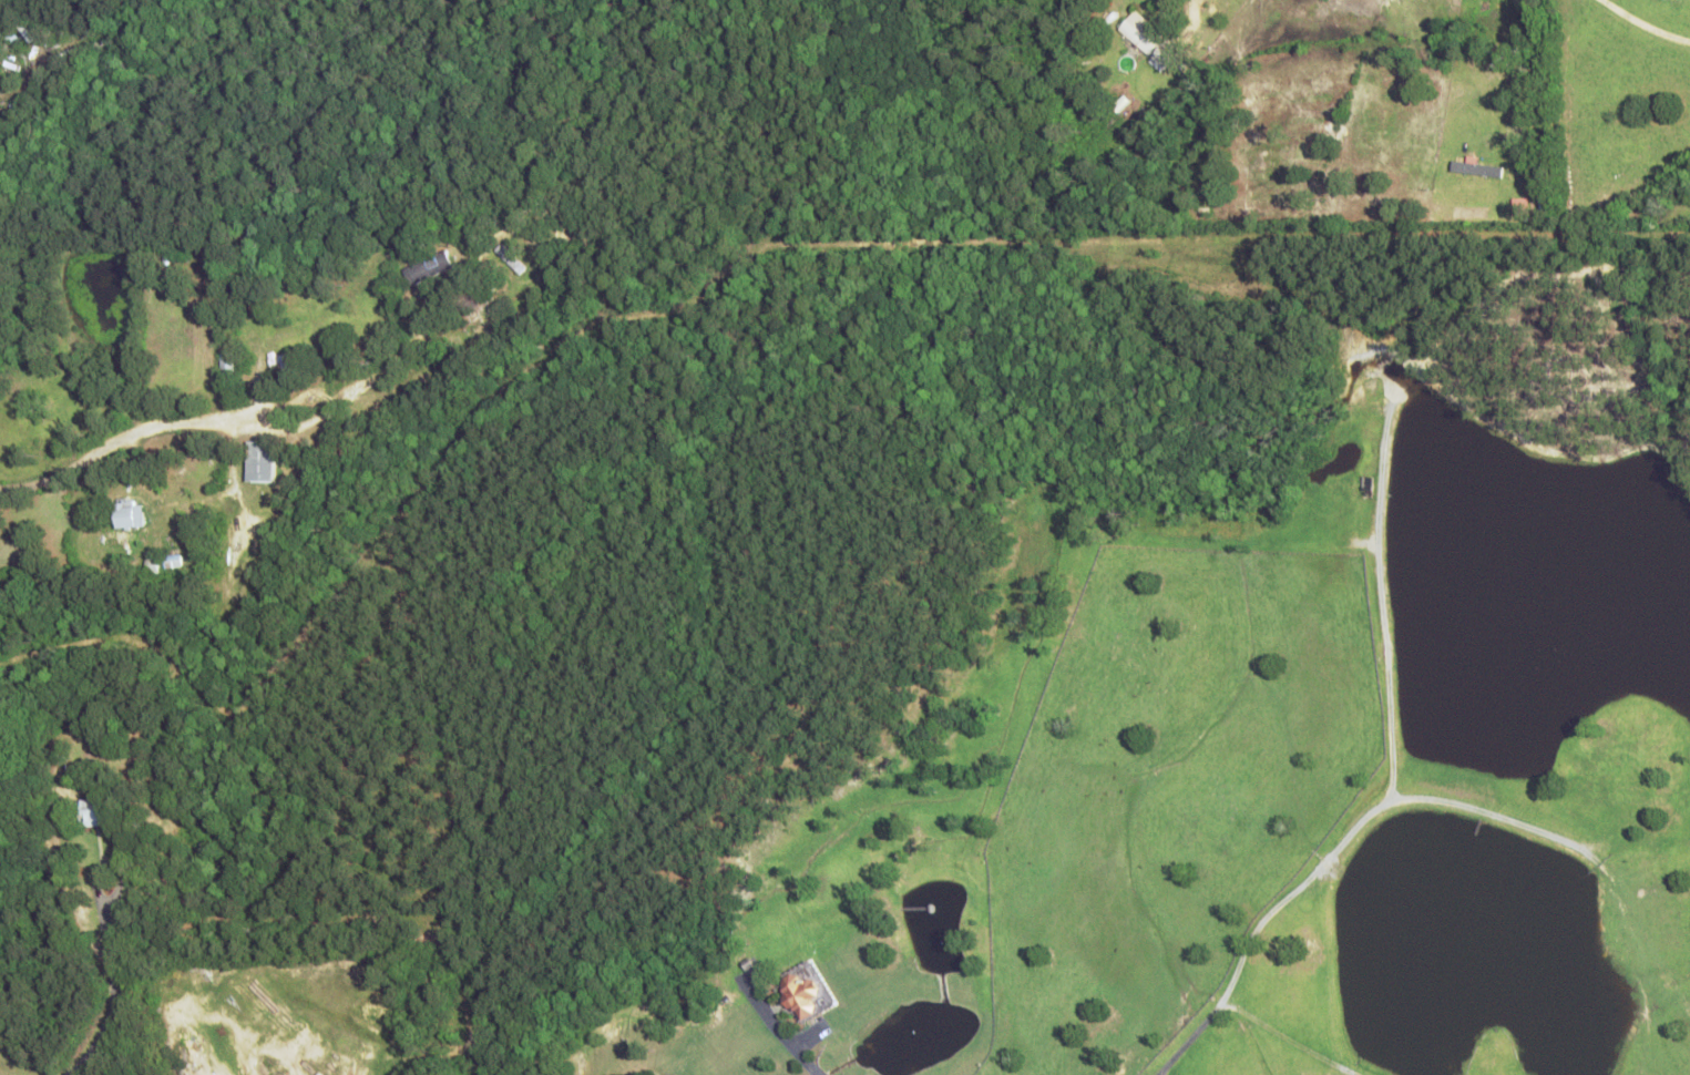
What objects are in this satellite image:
road: (1642, 24)
building: (1148, 40)
building: (428, 267)
building: (281, 354)
building: (226, 365)
road: (301, 398)
building: (314, 421)
building: (260, 461)
building: (129, 513)
building: (250, 550)
building: (92, 811)

